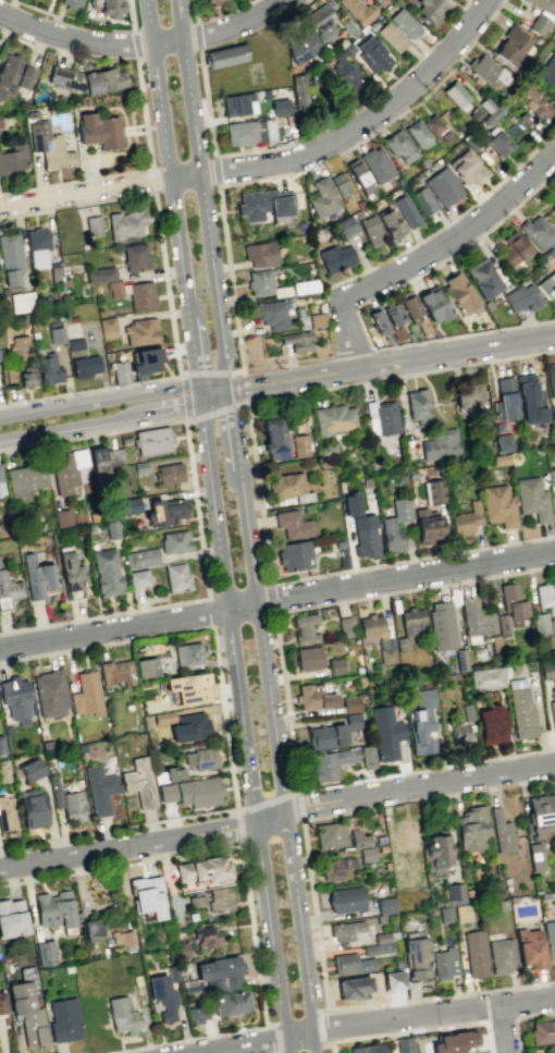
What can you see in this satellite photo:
road: (248, 0)
building: (71, 2)
building: (380, 2)
building: (219, 3)
road: (464, 5)
building: (392, 7)
building: (111, 9)
building: (431, 9)
road: (194, 10)
building: (357, 11)
building: (541, 14)
building: (320, 21)
building: (404, 22)
road: (86, 27)
building: (347, 28)
road: (196, 36)
building: (391, 36)
road: (143, 42)
building: (510, 44)
road: (135, 45)
building: (303, 47)
building: (348, 48)
building: (371, 54)
building: (225, 56)
building: (486, 70)
building: (547, 70)
building: (13, 74)
building: (347, 74)
building: (86, 78)
building: (298, 93)
building: (454, 93)
building: (264, 94)
building: (535, 101)
building: (238, 103)
building: (485, 105)
building: (279, 106)
building: (473, 114)
building: (491, 115)
building: (0, 123)
building: (435, 127)
building: (98, 130)
road: (133, 130)
road: (351, 130)
building: (249, 132)
road: (372, 133)
building: (418, 133)
building: (470, 142)
building: (47, 143)
building: (498, 143)
road: (287, 144)
building: (398, 146)
road: (169, 148)
building: (13, 158)
building: (422, 162)
building: (375, 163)
building: (467, 168)
parking lot: (87, 170)
road: (128, 171)
road: (215, 171)
road: (266, 177)
building: (359, 177)
road: (151, 180)
building: (398, 180)
building: (340, 184)
building: (442, 186)
road: (86, 192)
road: (197, 196)
building: (322, 197)
building: (422, 200)
building: (264, 204)
road: (63, 207)
building: (406, 210)
road: (26, 213)
road: (452, 218)
building: (125, 223)
building: (388, 223)
building: (92, 224)
building: (343, 226)
building: (369, 230)
building: (539, 233)
building: (37, 246)
building: (511, 248)
building: (259, 254)
road: (429, 254)
building: (134, 257)
building: (10, 258)
building: (334, 258)
road: (442, 260)
building: (53, 272)
building: (104, 279)
building: (483, 279)
road: (230, 283)
building: (263, 284)
building: (304, 286)
building: (547, 286)
building: (459, 294)
building: (140, 296)
building: (521, 297)
building: (21, 302)
building: (433, 304)
building: (409, 306)
building: (270, 314)
building: (393, 314)
building: (299, 318)
building: (317, 319)
building: (378, 322)
building: (107, 325)
building: (422, 326)
building: (140, 331)
building: (397, 332)
road: (172, 333)
road: (464, 334)
building: (55, 335)
building: (409, 335)
road: (194, 340)
building: (296, 341)
building: (74, 343)
building: (18, 347)
building: (146, 360)
road: (388, 362)
building: (84, 366)
building: (48, 369)
building: (120, 371)
road: (400, 376)
building: (551, 378)
building: (26, 379)
road: (212, 388)
building: (468, 394)
building: (530, 399)
building: (504, 400)
road: (100, 401)
road: (242, 403)
building: (417, 403)
road: (168, 409)
road: (184, 413)
building: (382, 416)
building: (333, 419)
building: (497, 427)
road: (54, 432)
road: (92, 434)
building: (273, 438)
building: (125, 439)
building: (151, 440)
road: (231, 441)
building: (503, 442)
building: (439, 444)
building: (299, 445)
building: (77, 457)
building: (113, 457)
building: (499, 458)
building: (98, 463)
building: (139, 467)
building: (168, 473)
building: (61, 475)
building: (410, 475)
building: (551, 476)
building: (24, 479)
building: (285, 485)
building: (1, 486)
building: (434, 491)
building: (303, 497)
building: (532, 499)
building: (129, 504)
building: (350, 504)
building: (497, 505)
building: (399, 509)
building: (164, 511)
building: (61, 517)
building: (466, 518)
building: (293, 524)
building: (425, 526)
building: (111, 529)
building: (390, 535)
building: (365, 536)
building: (174, 541)
building: (342, 553)
building: (294, 554)
building: (140, 558)
building: (70, 572)
building: (106, 572)
road: (322, 573)
building: (37, 577)
building: (176, 577)
building: (137, 578)
building: (9, 589)
road: (272, 597)
building: (545, 597)
road: (192, 600)
building: (511, 600)
road: (277, 601)
road: (325, 602)
road: (209, 611)
building: (474, 616)
building: (539, 623)
building: (443, 624)
building: (502, 624)
building: (370, 625)
building: (409, 626)
building: (344, 627)
road: (197, 628)
building: (304, 628)
building: (187, 652)
building: (386, 656)
building: (308, 658)
building: (459, 659)
building: (334, 665)
building: (145, 666)
building: (546, 670)
building: (115, 672)
building: (485, 678)
building: (187, 688)
building: (50, 693)
building: (86, 694)
building: (312, 697)
building: (16, 699)
building: (350, 703)
building: (467, 712)
building: (520, 712)
building: (552, 713)
building: (162, 718)
road: (243, 718)
building: (147, 720)
building: (351, 720)
building: (421, 722)
building: (194, 724)
building: (490, 724)
building: (385, 732)
building: (458, 733)
building: (325, 736)
building: (1, 745)
building: (366, 757)
building: (201, 758)
building: (329, 763)
building: (30, 769)
building: (3, 771)
road: (273, 772)
building: (172, 773)
building: (138, 782)
building: (98, 788)
road: (395, 791)
building: (192, 792)
road: (298, 805)
road: (251, 806)
building: (32, 807)
building: (72, 807)
building: (540, 812)
building: (5, 813)
road: (326, 816)
building: (471, 828)
road: (118, 829)
building: (501, 831)
building: (329, 834)
building: (406, 835)
building: (357, 838)
building: (379, 838)
road: (119, 846)
road: (214, 847)
building: (381, 847)
building: (436, 852)
building: (367, 854)
building: (534, 856)
building: (385, 866)
building: (335, 867)
building: (202, 870)
building: (400, 878)
building: (455, 893)
building: (147, 895)
building: (543, 895)
building: (220, 898)
building: (346, 898)
building: (196, 901)
building: (502, 904)
building: (385, 905)
building: (54, 909)
building: (461, 913)
building: (443, 914)
building: (12, 917)
building: (379, 919)
building: (91, 929)
building: (347, 931)
building: (548, 935)
building: (385, 936)
building: (122, 938)
building: (205, 938)
building: (378, 947)
building: (529, 947)
building: (182, 950)
building: (45, 953)
building: (474, 954)
building: (501, 955)
building: (415, 956)
building: (443, 963)
building: (350, 964)
building: (172, 972)
building: (219, 974)
building: (392, 979)
building: (353, 988)
building: (192, 989)
building: (162, 995)
building: (231, 1002)
building: (2, 1003)
building: (26, 1007)
road: (345, 1007)
road: (322, 1011)
building: (197, 1013)
building: (122, 1015)
building: (63, 1019)
road: (296, 1019)
road: (374, 1020)
road: (319, 1027)
road: (417, 1029)
road: (501, 1029)
building: (542, 1031)
road: (275, 1038)
road: (182, 1039)
road: (326, 1042)
building: (453, 1042)
road: (301, 1044)
building: (403, 1044)
building: (367, 1048)
building: (551, 1048)

